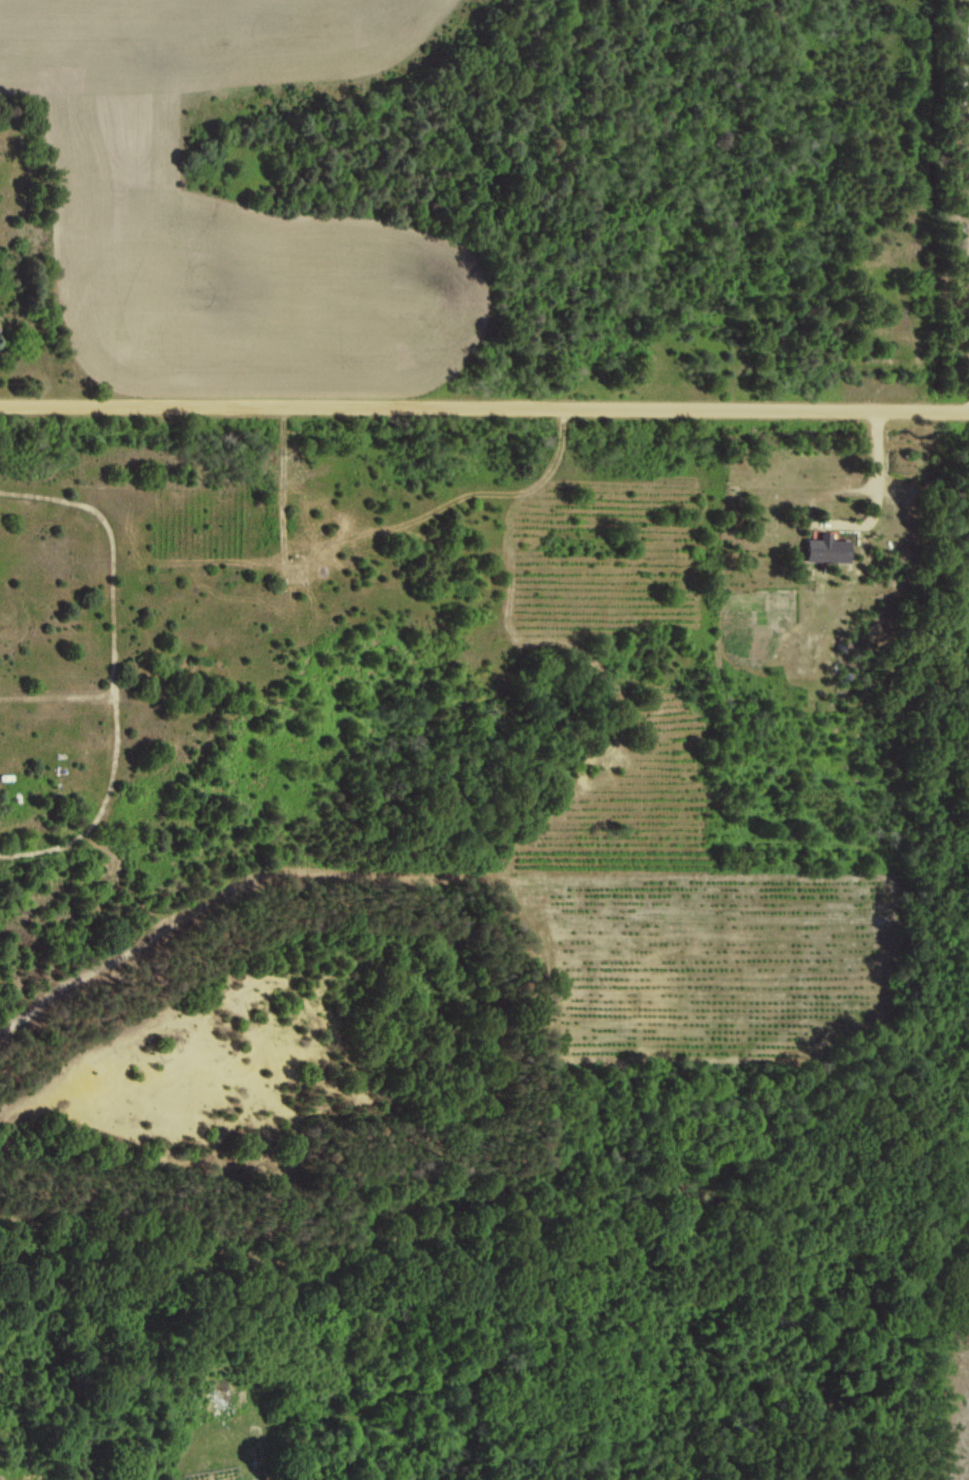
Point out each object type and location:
road: (484, 409)
road: (879, 485)
building: (827, 548)

